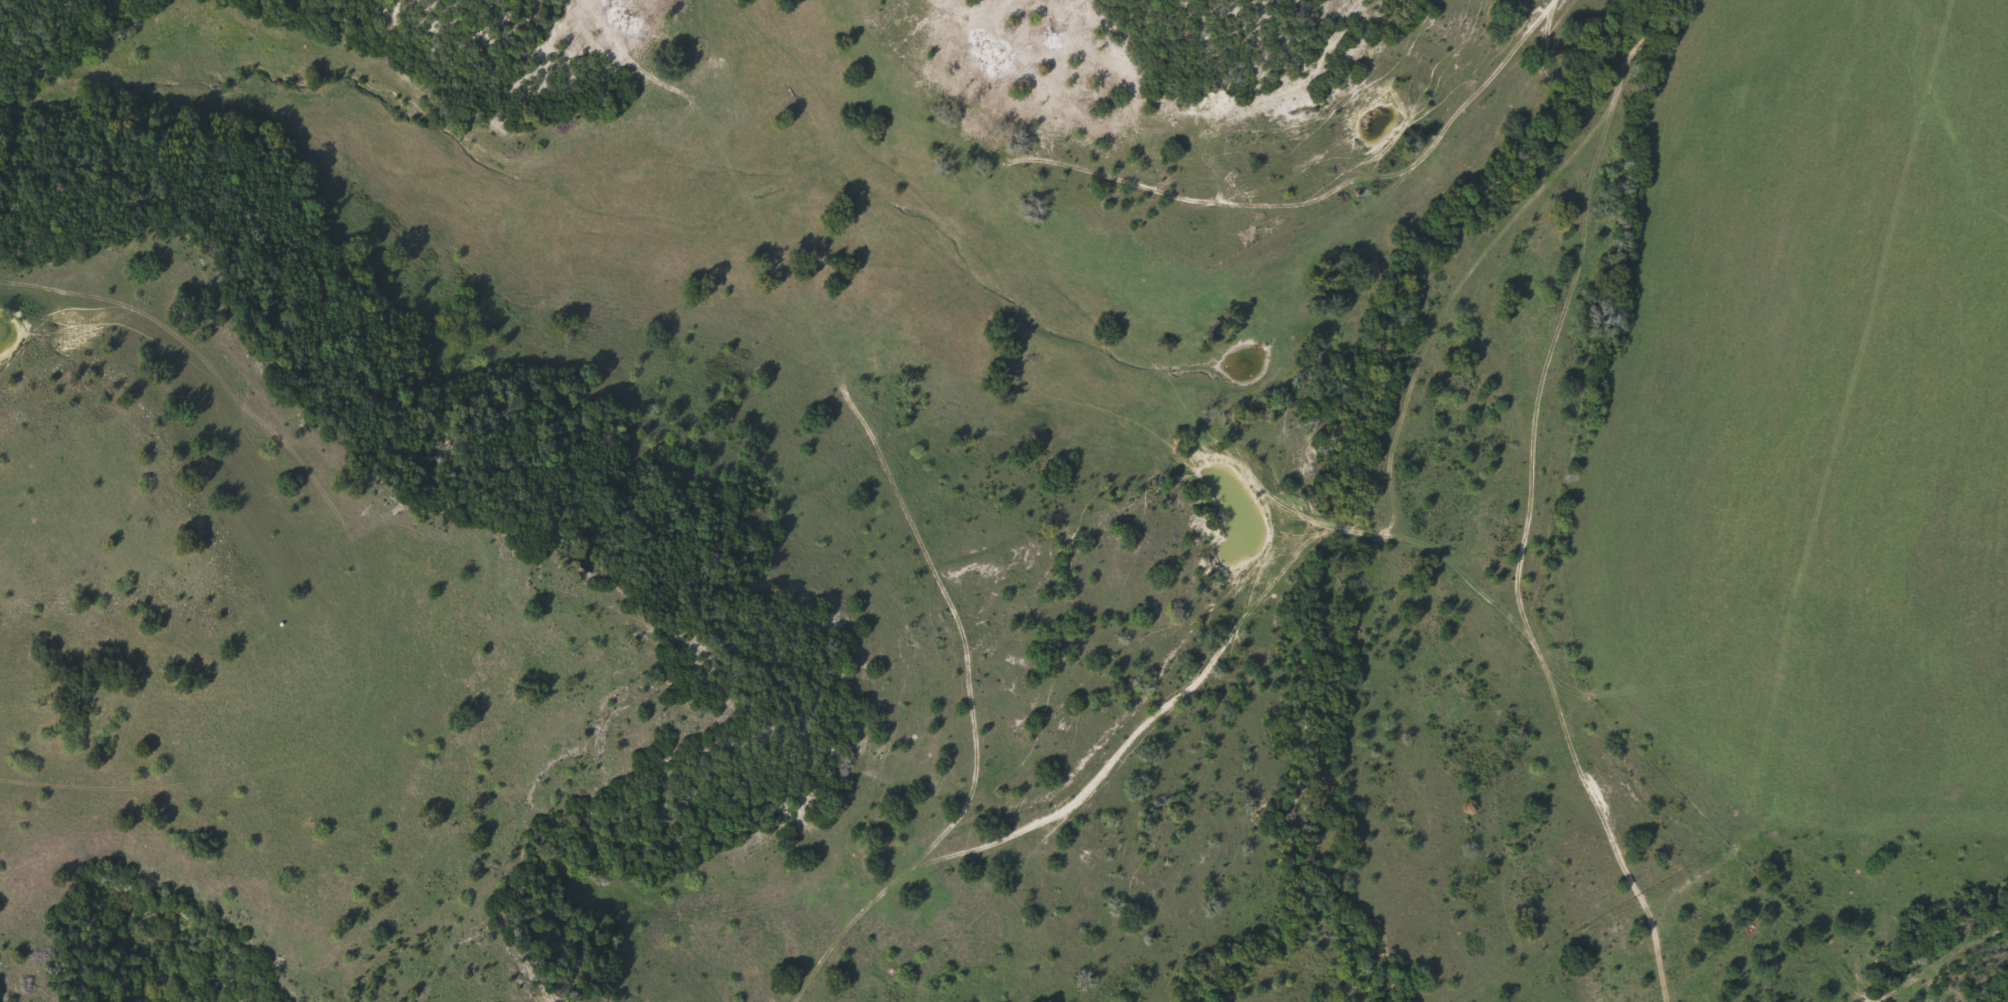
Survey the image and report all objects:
road: (1406, 175)
road: (1530, 499)
road: (1319, 530)
road: (974, 726)
road: (851, 922)

